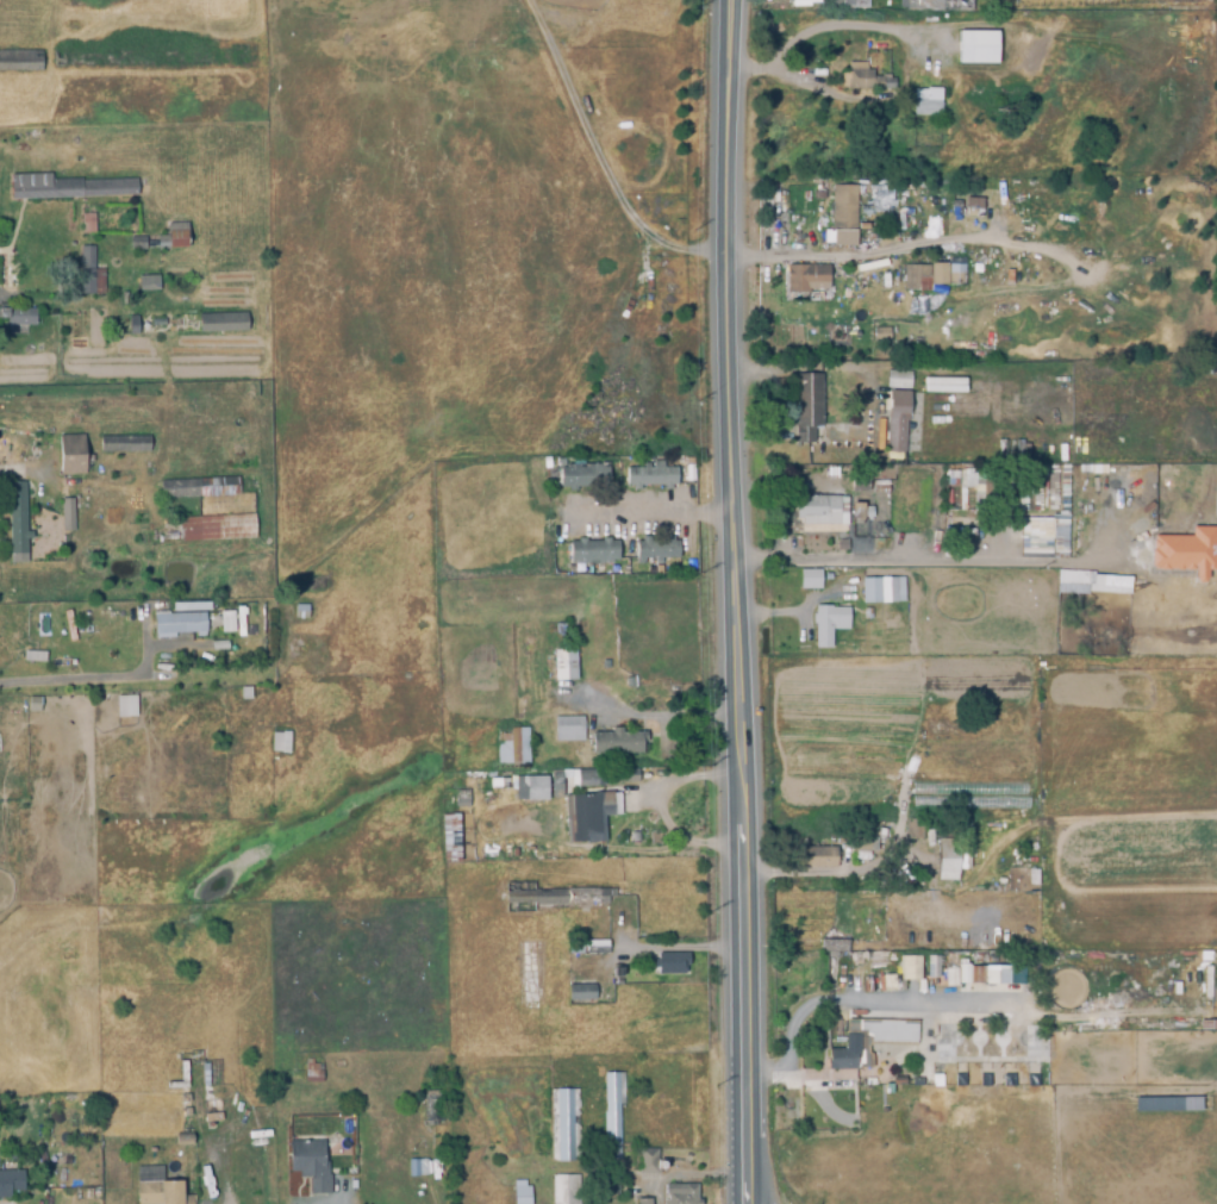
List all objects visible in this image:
building: (799, 0)
building: (855, 4)
building: (924, 5)
road: (829, 26)
building: (976, 48)
building: (102, 58)
building: (214, 58)
building: (19, 62)
road: (797, 77)
building: (863, 81)
building: (924, 104)
road: (595, 152)
building: (65, 188)
building: (817, 196)
building: (843, 208)
building: (86, 225)
building: (173, 237)
building: (137, 244)
road: (898, 247)
building: (88, 274)
building: (804, 279)
building: (915, 279)
building: (944, 279)
building: (962, 281)
building: (148, 283)
building: (17, 317)
building: (221, 325)
building: (131, 326)
building: (880, 336)
building: (917, 345)
building: (897, 380)
building: (942, 385)
building: (806, 407)
building: (850, 412)
building: (841, 419)
building: (895, 420)
building: (123, 444)
building: (70, 456)
road: (15, 469)
building: (101, 469)
building: (649, 476)
building: (582, 478)
building: (859, 481)
building: (200, 491)
road: (651, 512)
building: (815, 512)
building: (860, 512)
building: (65, 514)
building: (17, 524)
building: (214, 528)
building: (1043, 536)
building: (592, 551)
building: (655, 551)
building: (1185, 551)
road: (938, 561)
building: (809, 580)
building: (1072, 581)
building: (1109, 584)
building: (881, 591)
road: (728, 601)
building: (189, 606)
building: (300, 611)
building: (866, 615)
building: (239, 620)
building: (888, 620)
building: (192, 623)
building: (826, 624)
building: (35, 656)
building: (563, 667)
road: (85, 681)
building: (33, 704)
building: (125, 706)
road: (649, 717)
building: (568, 730)
building: (279, 741)
building: (616, 743)
building: (511, 747)
building: (626, 776)
building: (589, 780)
building: (537, 796)
building: (461, 799)
road: (657, 806)
building: (599, 816)
building: (915, 829)
building: (880, 834)
building: (449, 837)
building: (863, 844)
building: (818, 859)
building: (949, 860)
building: (550, 898)
building: (589, 948)
building: (838, 948)
building: (668, 963)
building: (931, 965)
building: (909, 967)
building: (616, 971)
building: (975, 973)
building: (529, 975)
building: (949, 975)
building: (158, 984)
building: (582, 993)
road: (844, 1000)
building: (893, 1034)
building: (853, 1035)
building: (844, 1060)
building: (312, 1072)
building: (893, 1072)
building: (936, 1084)
building: (988, 1084)
building: (1012, 1084)
building: (1036, 1084)
building: (963, 1085)
building: (1167, 1104)
building: (430, 1109)
building: (463, 1112)
building: (612, 1113)
building: (563, 1125)
building: (182, 1140)
building: (650, 1162)
building: (310, 1164)
building: (416, 1169)
building: (10, 1183)
building: (564, 1190)
building: (160, 1191)
building: (520, 1193)
building: (682, 1196)
building: (642, 1202)

